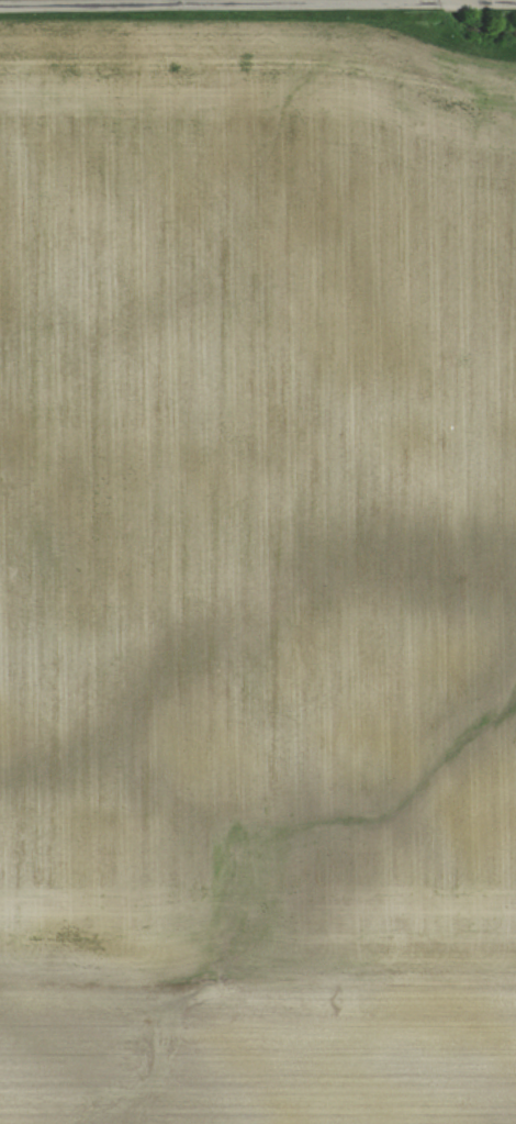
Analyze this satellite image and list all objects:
road: (258, 4)

